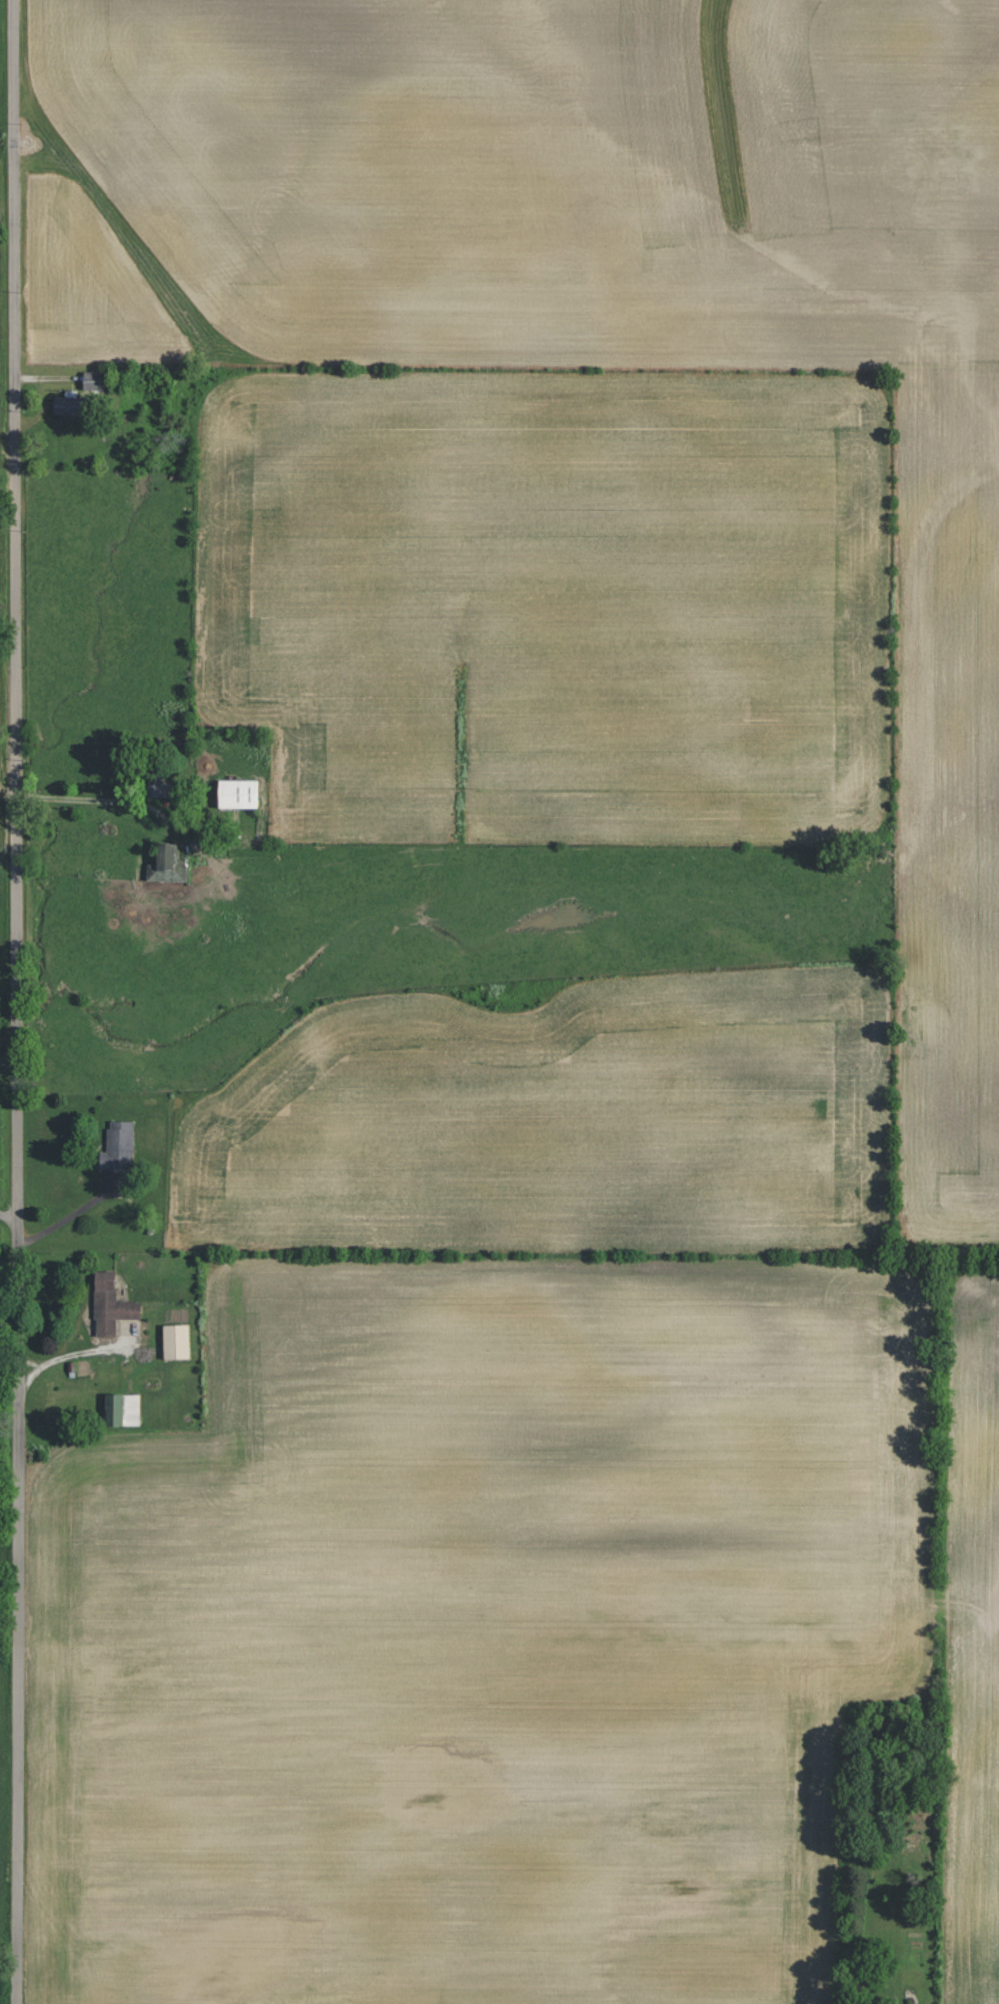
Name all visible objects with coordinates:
building: (93, 381)
building: (68, 404)
building: (155, 785)
building: (236, 793)
building: (168, 864)
road: (17, 1001)
road: (9, 1058)
building: (117, 1146)
road: (71, 1214)
building: (110, 1305)
building: (175, 1341)
building: (121, 1410)

